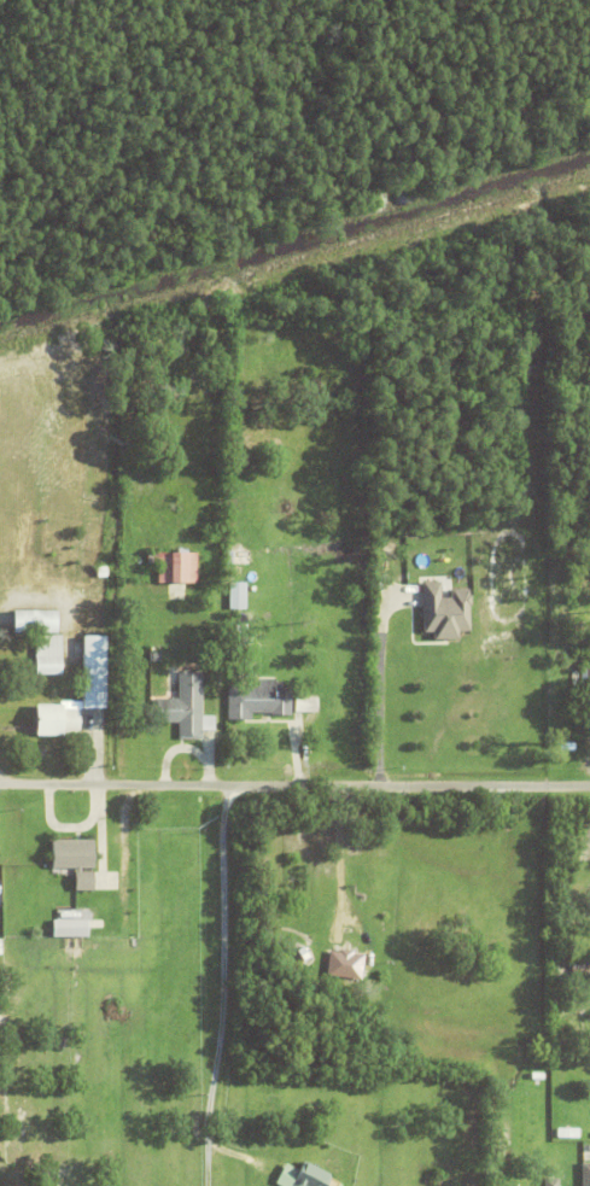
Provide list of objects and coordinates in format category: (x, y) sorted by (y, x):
river: (294, 241)
building: (567, 320)
building: (236, 556)
building: (175, 563)
building: (238, 595)
building: (444, 612)
building: (245, 641)
building: (48, 654)
building: (154, 656)
building: (94, 671)
building: (585, 678)
building: (259, 699)
building: (185, 707)
building: (56, 719)
road: (294, 785)
building: (74, 860)
building: (68, 927)
building: (1, 947)
building: (345, 964)
building: (578, 971)
building: (586, 1131)
building: (567, 1133)
building: (584, 1173)
building: (304, 1176)
building: (549, 1181)

